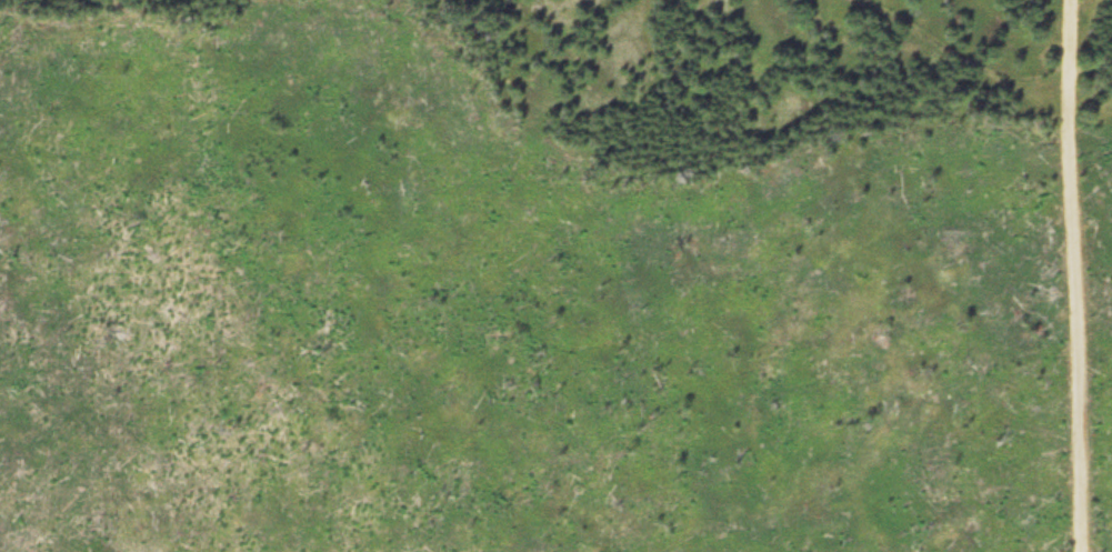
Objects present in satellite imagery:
road: (1078, 275)

